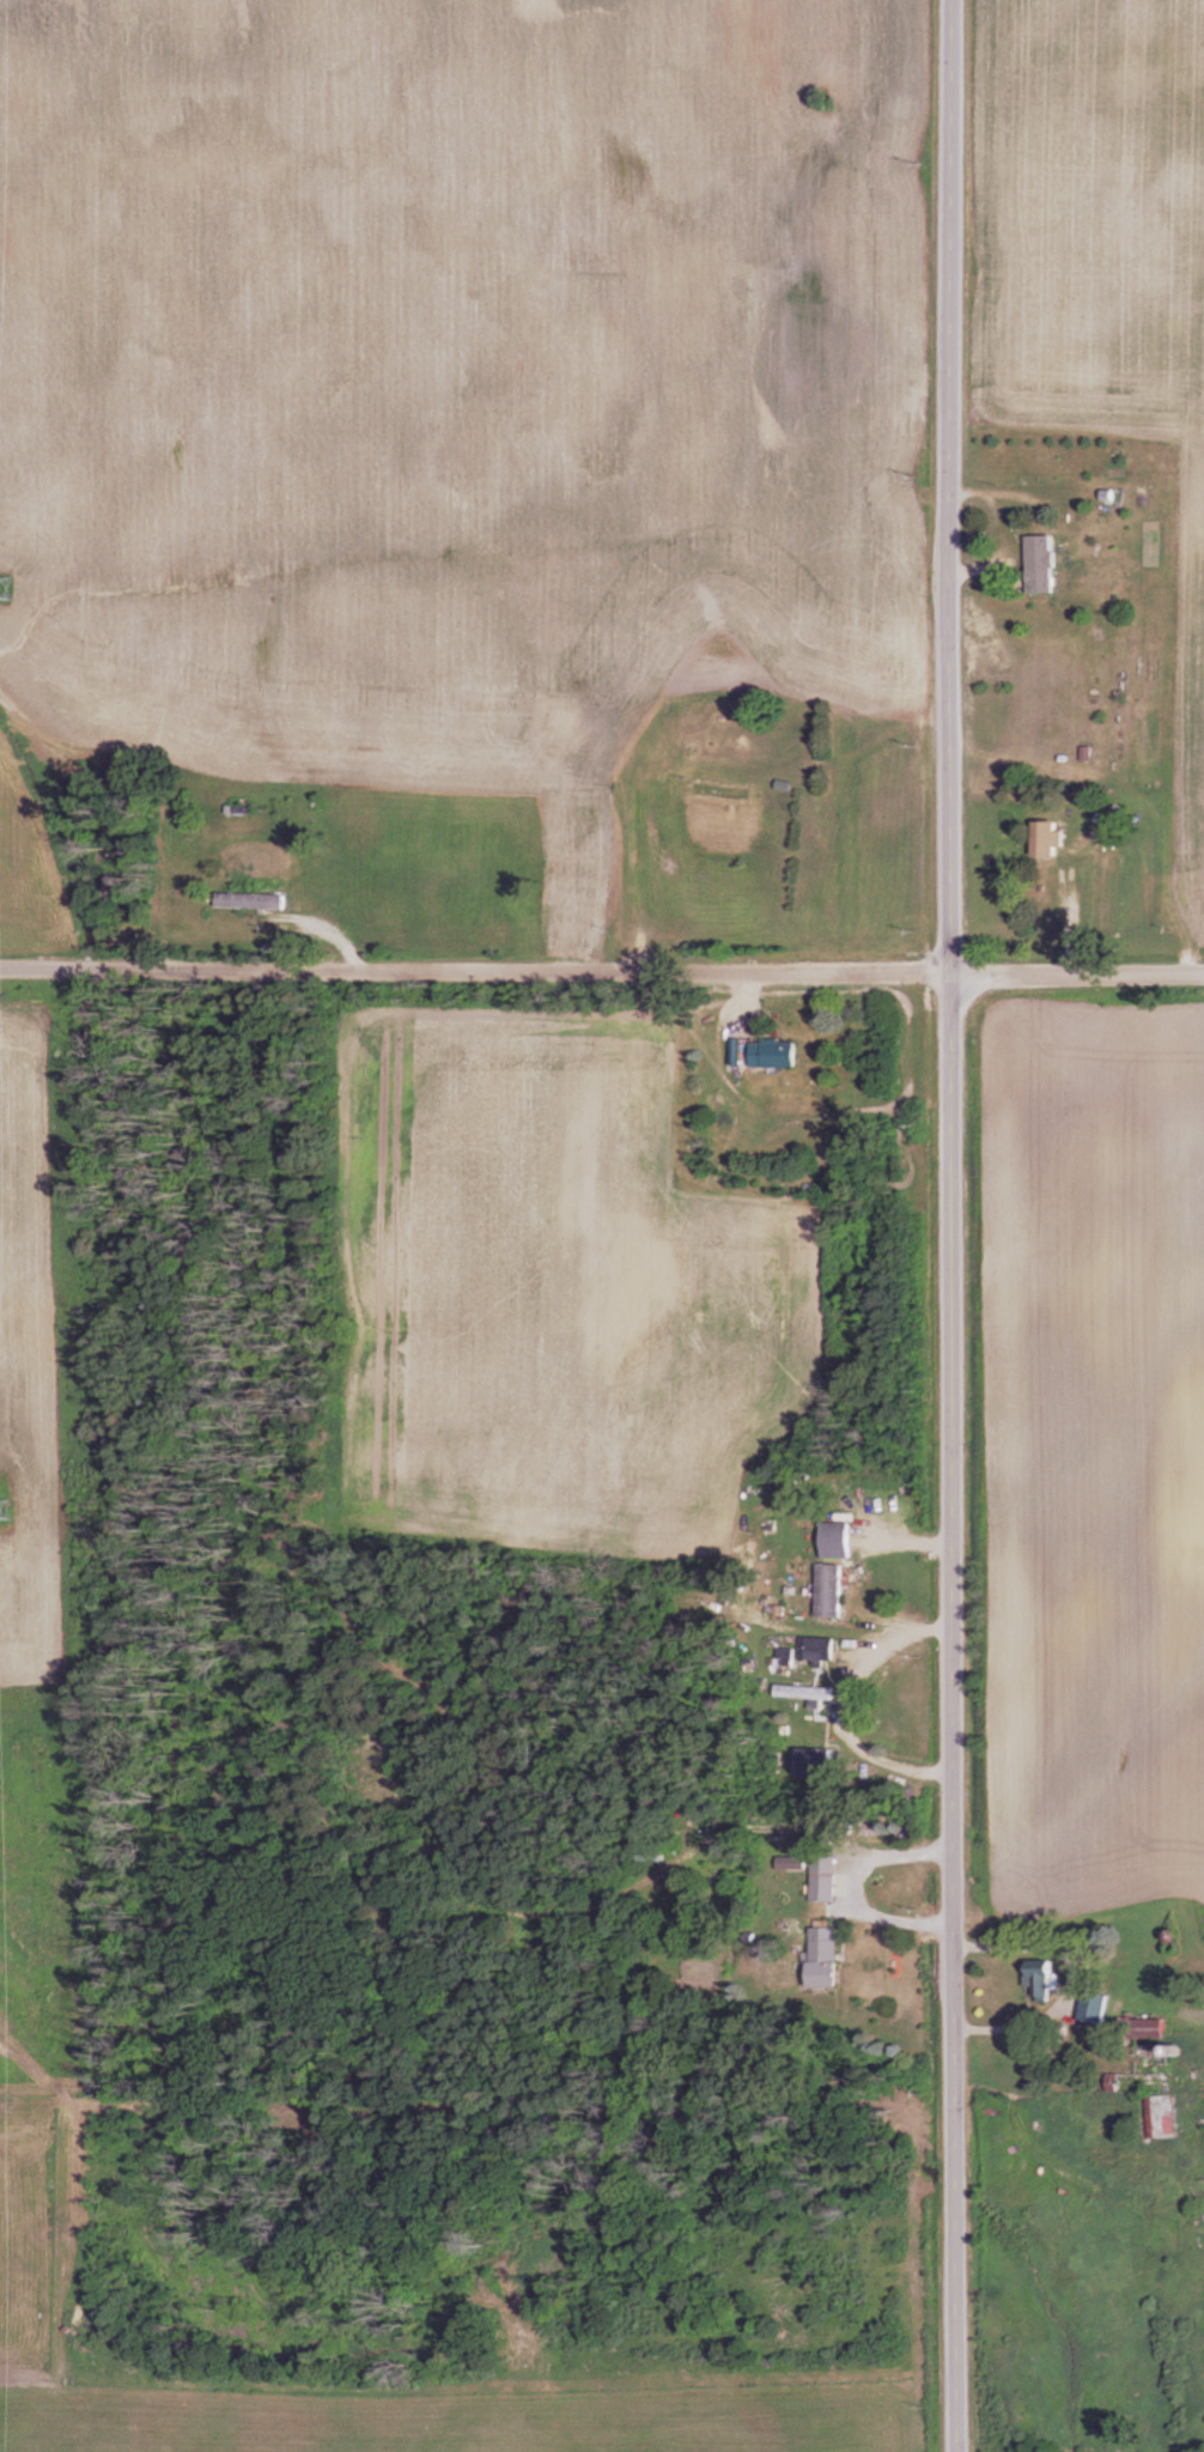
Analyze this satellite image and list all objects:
building: (1048, 564)
power tower: (1, 588)
building: (570, 728)
building: (722, 791)
building: (1050, 838)
building: (256, 900)
road: (601, 960)
building: (777, 1052)
road: (936, 1226)
power tower: (0, 1511)
building: (841, 1541)
building: (833, 1591)
building: (826, 1646)
building: (809, 1694)
building: (821, 1761)
road: (857, 1888)
building: (831, 1959)
building: (1045, 1979)
building: (1161, 2108)

